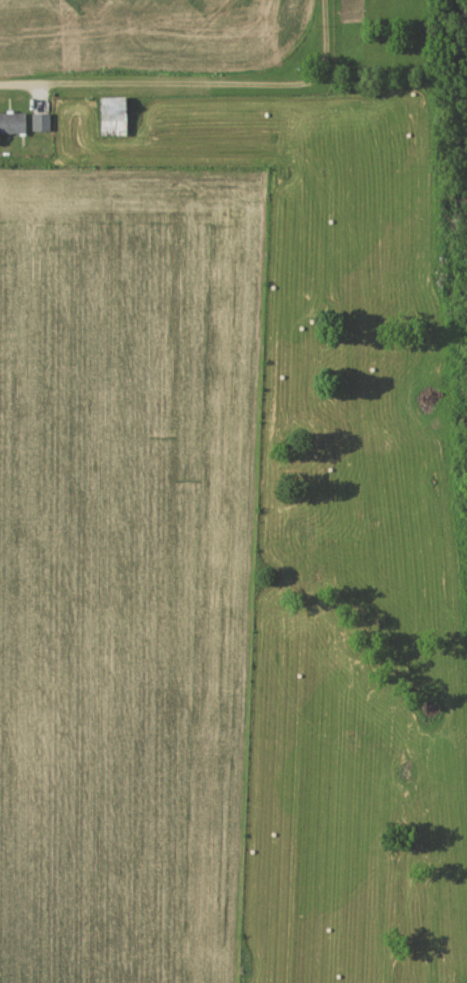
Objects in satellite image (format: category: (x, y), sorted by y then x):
road: (326, 53)
road: (145, 82)
building: (117, 116)
building: (14, 122)
building: (44, 122)

